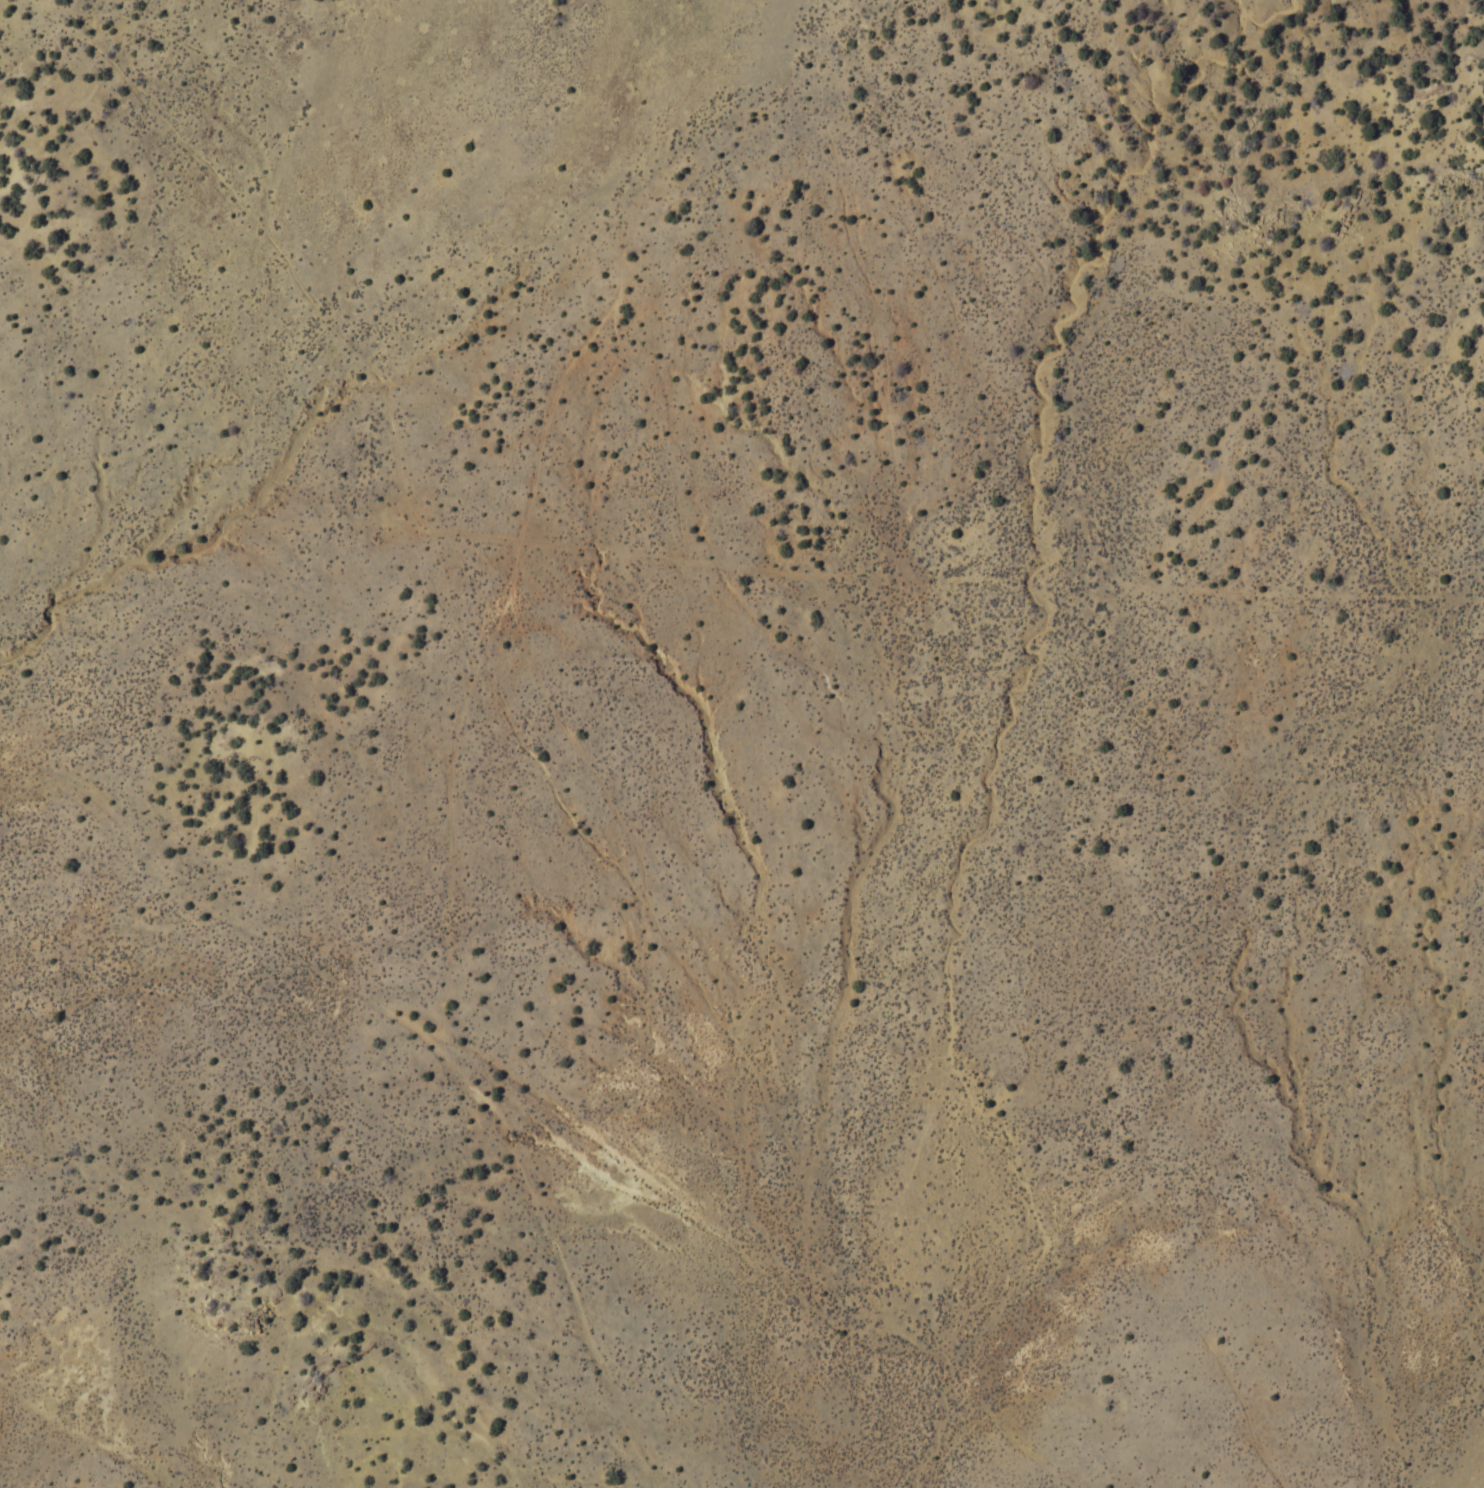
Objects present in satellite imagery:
road: (690, 497)

